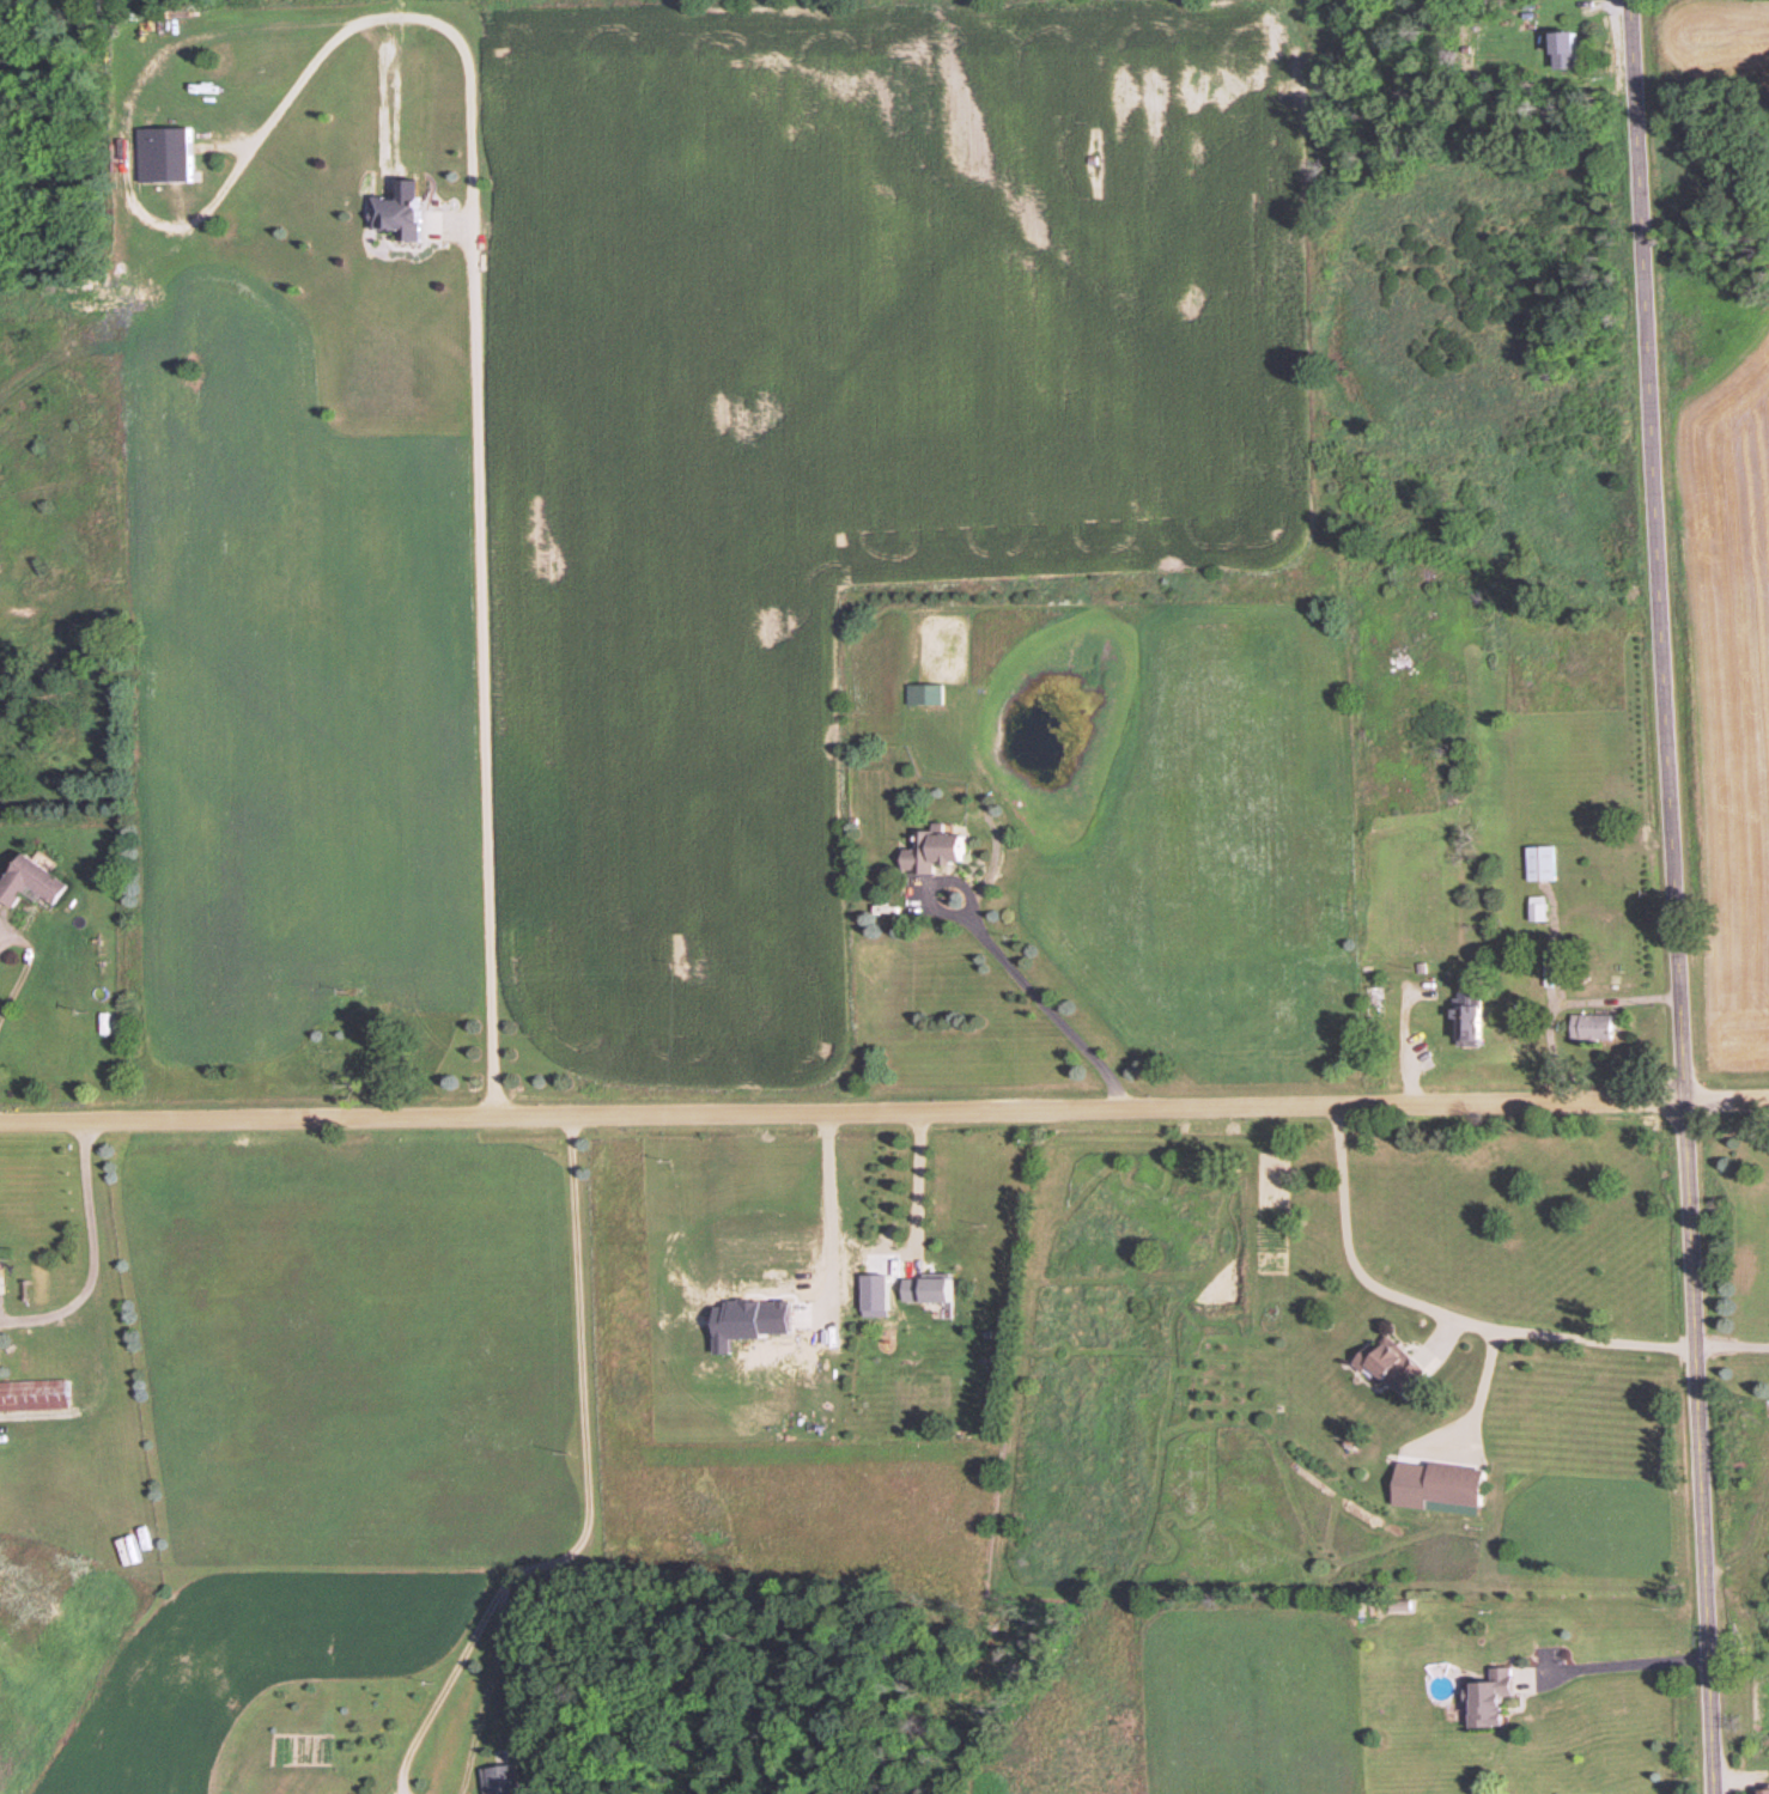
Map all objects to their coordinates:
building: (1558, 51)
building: (160, 157)
building: (393, 218)
road: (478, 433)
building: (920, 694)
building: (926, 850)
building: (1537, 863)
building: (26, 880)
road: (1673, 896)
building: (1533, 908)
road: (30, 972)
road: (1039, 1002)
building: (1372, 1002)
road: (1569, 1003)
building: (1461, 1022)
building: (1588, 1027)
road: (885, 1107)
road: (914, 1185)
road: (95, 1254)
building: (922, 1289)
road: (1434, 1315)
road: (1731, 1351)
building: (1386, 1364)
building: (34, 1397)
road: (588, 1485)
building: (1448, 1485)
road: (1628, 1670)
building: (1484, 1698)
building: (494, 1780)
building: (1758, 1792)

